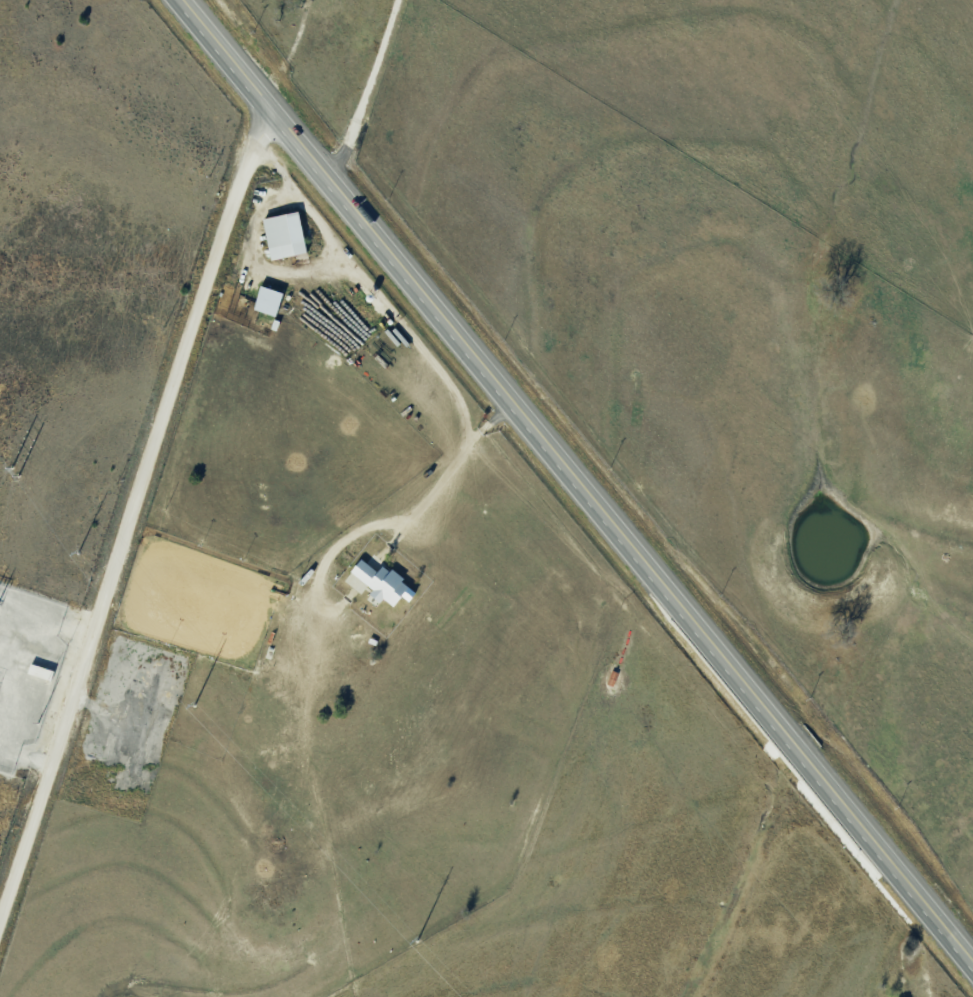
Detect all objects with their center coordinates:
road: (307, 54)
power tower: (10, 468)
power tower: (17, 476)
road: (577, 477)
road: (132, 507)
power tower: (77, 553)
power substation: (25, 667)
power tower: (193, 705)
power tower: (416, 941)

